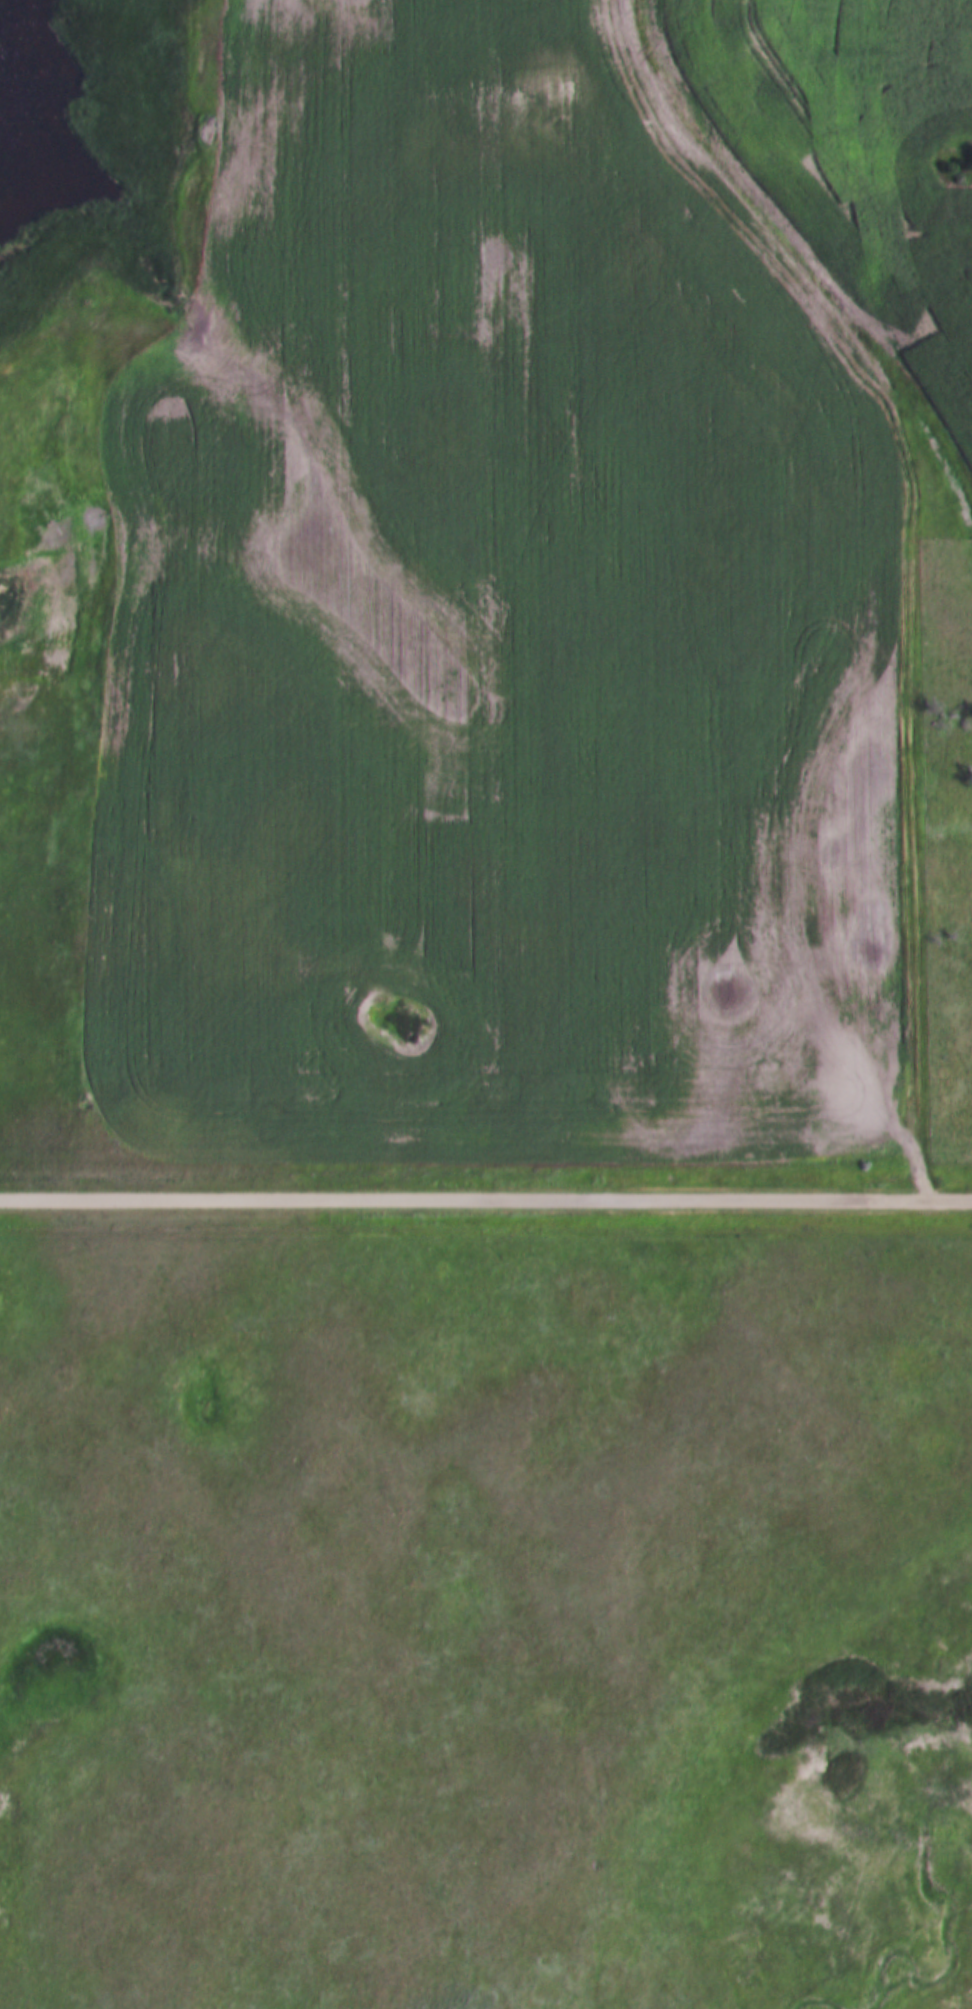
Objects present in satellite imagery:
road: (486, 1195)

